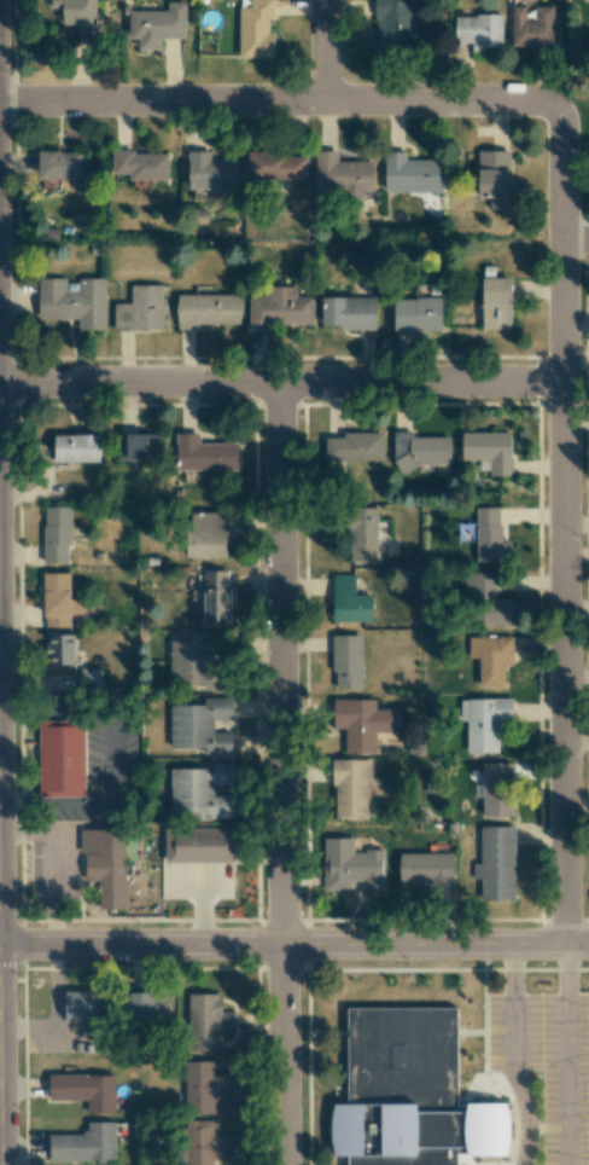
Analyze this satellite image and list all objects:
building: (77, 13)
building: (157, 25)
building: (532, 27)
building: (392, 28)
building: (256, 30)
building: (479, 30)
road: (330, 52)
road: (280, 103)
building: (59, 164)
building: (141, 164)
building: (276, 166)
building: (211, 172)
building: (342, 174)
building: (412, 174)
building: (495, 178)
road: (578, 242)
building: (74, 301)
building: (496, 303)
building: (280, 308)
building: (140, 309)
building: (206, 309)
building: (349, 312)
building: (416, 314)
road: (282, 383)
building: (140, 446)
building: (355, 447)
building: (76, 448)
building: (420, 451)
building: (488, 451)
building: (204, 453)
road: (564, 527)
building: (363, 533)
building: (57, 534)
building: (206, 534)
building: (490, 537)
building: (216, 598)
building: (58, 599)
building: (488, 599)
building: (349, 601)
building: (59, 649)
building: (491, 659)
building: (198, 661)
building: (346, 662)
building: (91, 679)
building: (484, 721)
building: (362, 723)
building: (200, 726)
building: (62, 758)
road: (282, 773)
building: (350, 787)
building: (496, 789)
building: (200, 792)
building: (199, 845)
building: (105, 864)
building: (496, 864)
building: (351, 865)
building: (428, 871)
road: (293, 950)
building: (81, 1005)
building: (147, 1007)
building: (208, 1021)
road: (512, 1057)
road: (565, 1057)
building: (205, 1086)
road: (0, 1089)
building: (84, 1090)
building: (404, 1099)
building: (84, 1143)
building: (206, 1144)

